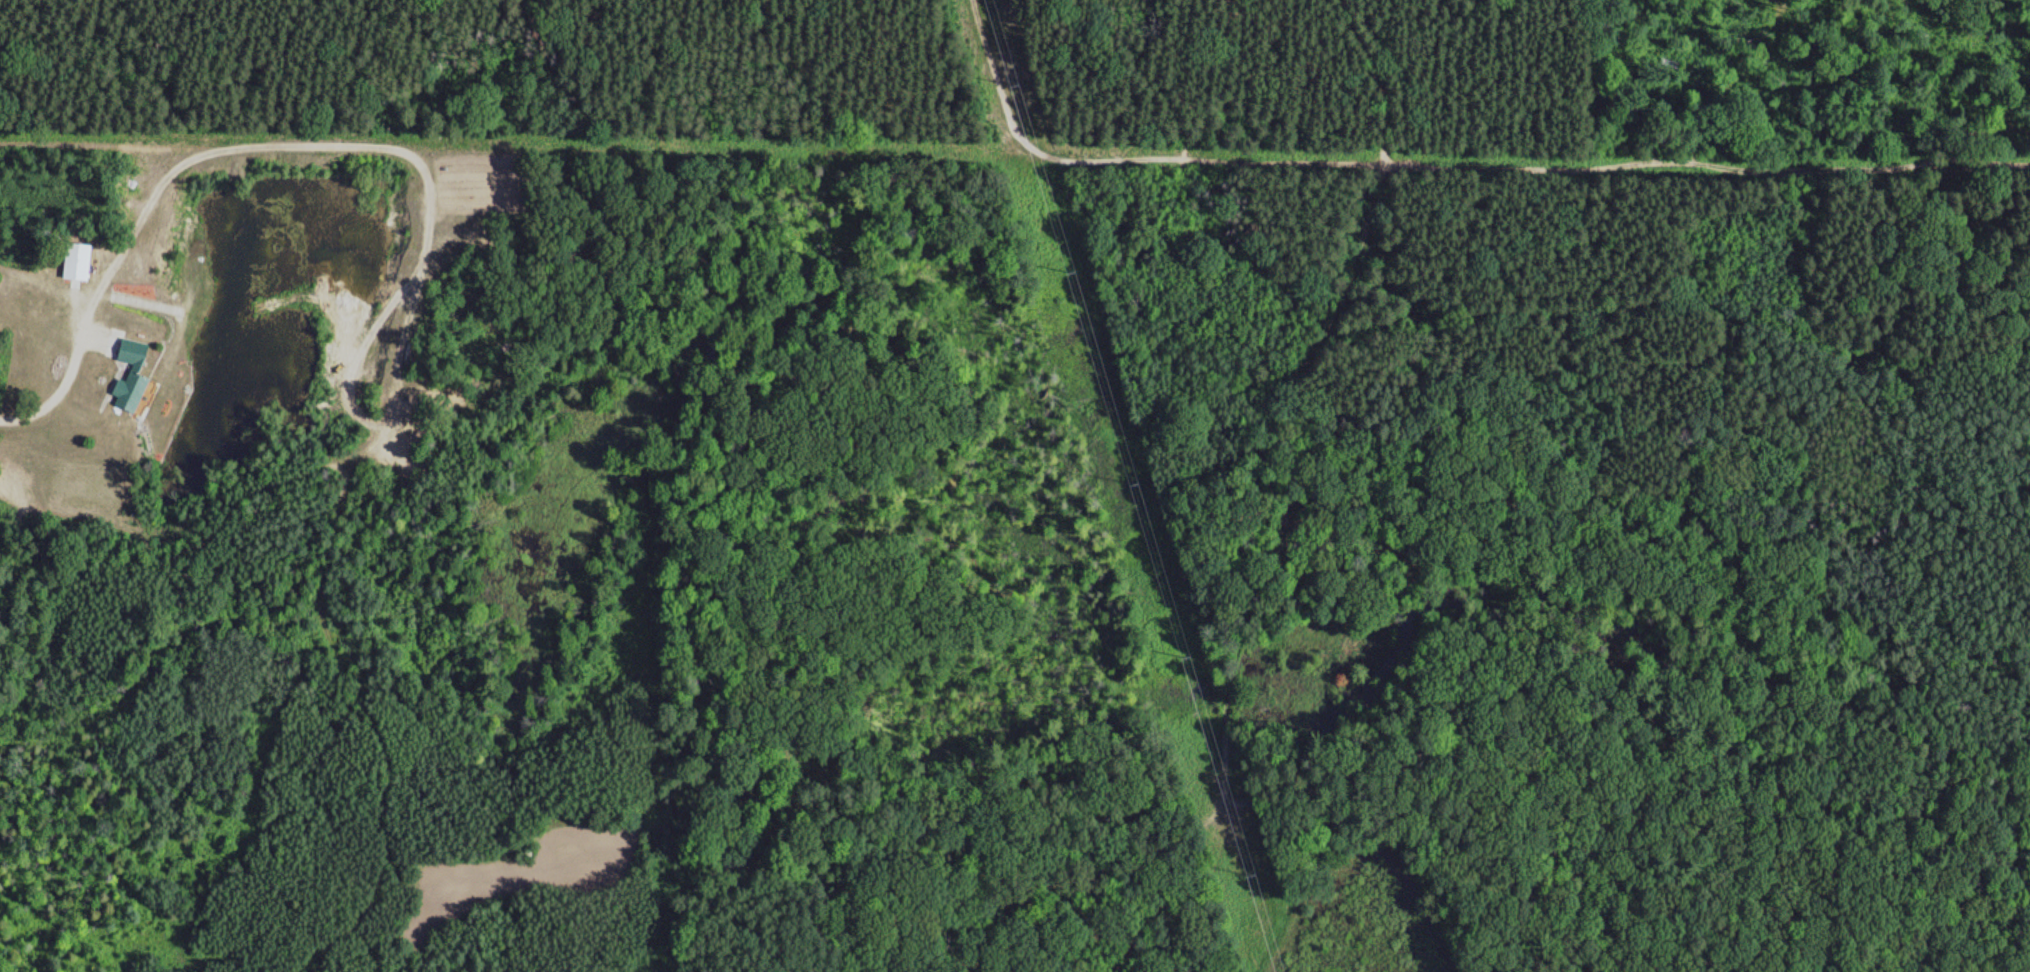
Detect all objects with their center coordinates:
road: (1756, 34)
road: (1005, 76)
road: (1529, 166)
building: (76, 260)
road: (413, 318)
road: (1351, 337)
road: (1885, 353)
building: (126, 371)
road: (1289, 402)
road: (1229, 698)
building: (523, 853)

